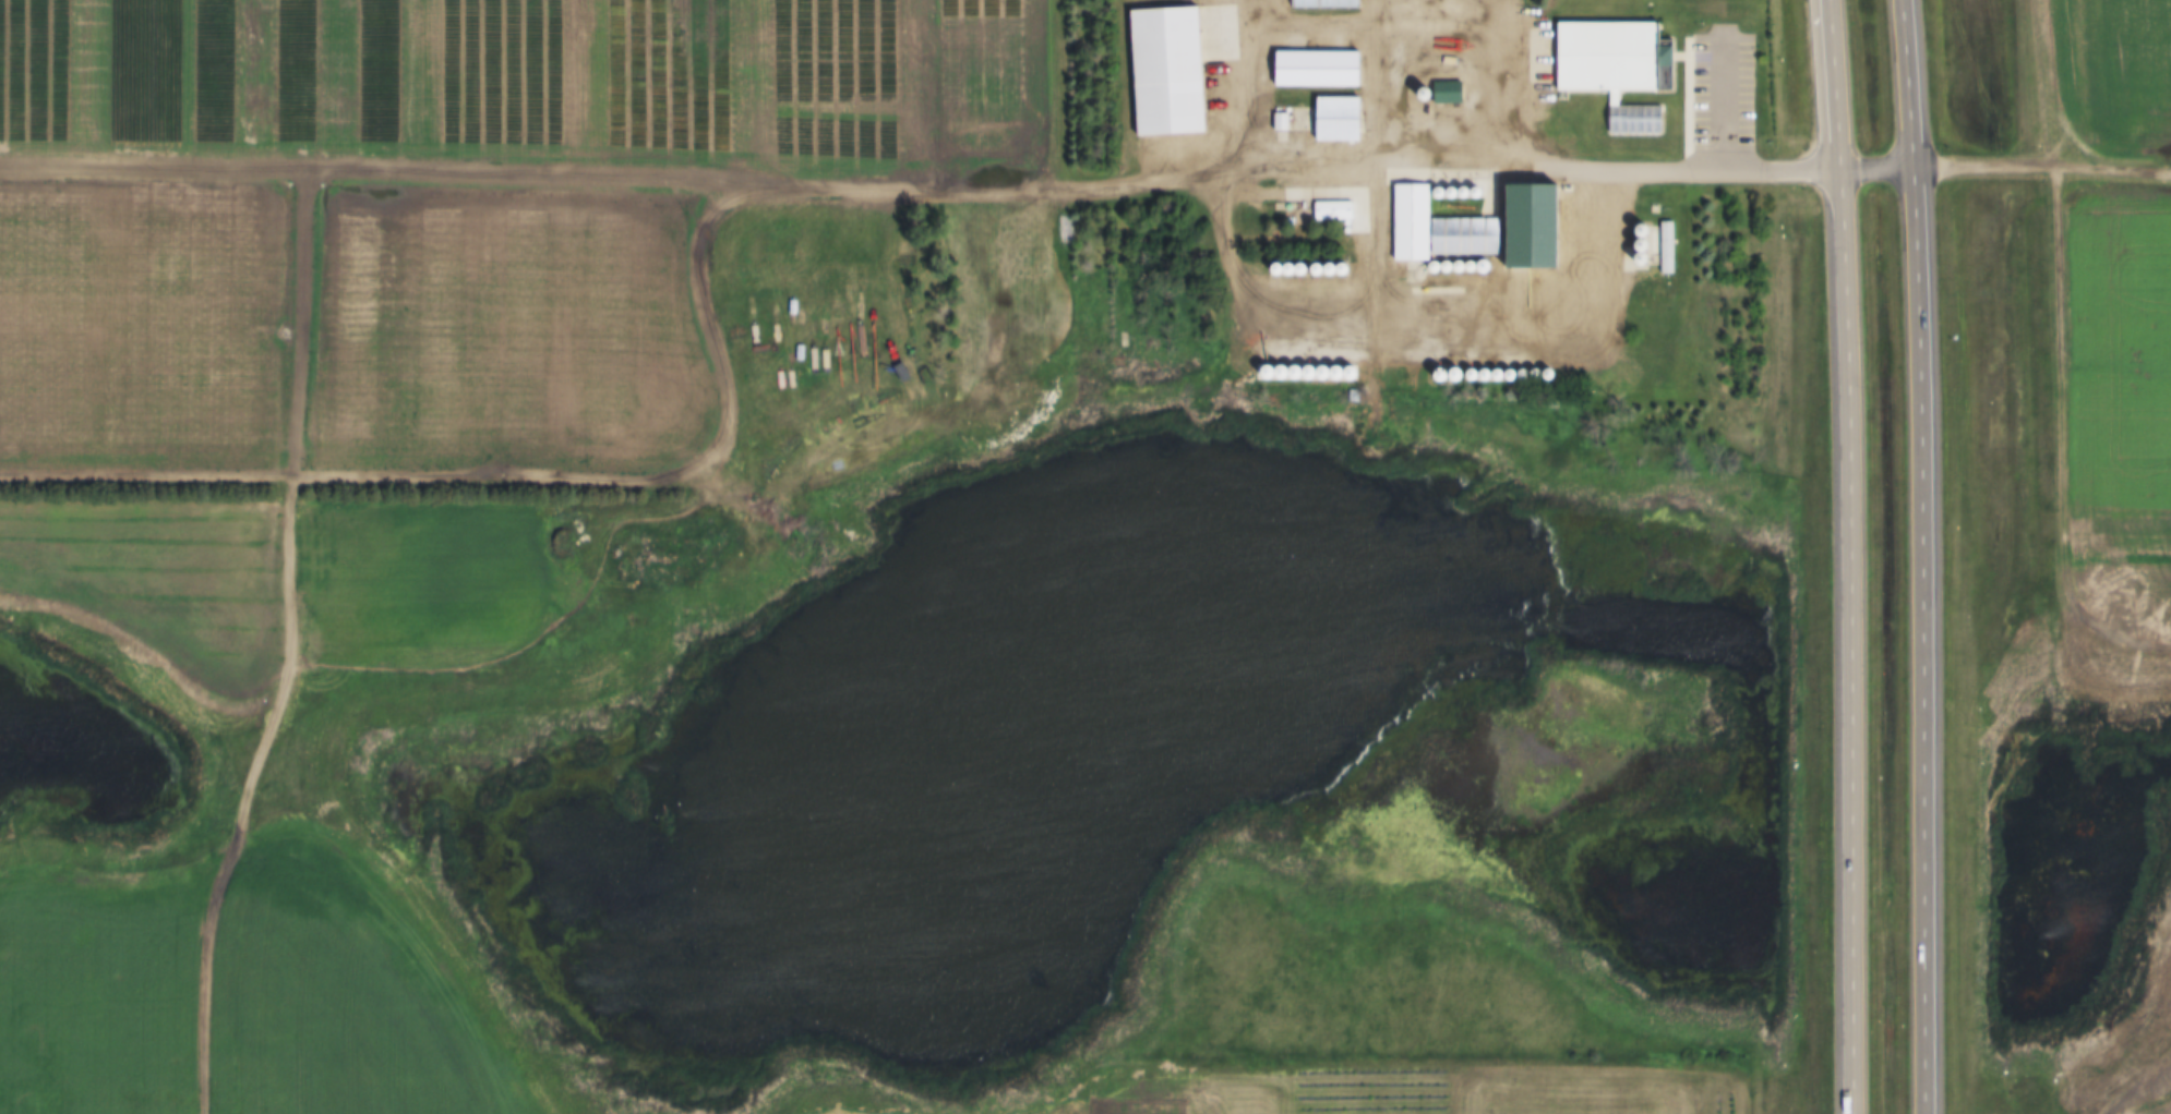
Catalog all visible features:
building: (1323, 4)
road: (1269, 12)
building: (1430, 17)
building: (1348, 61)
building: (1614, 69)
building: (1164, 75)
building: (1302, 81)
road: (1501, 87)
building: (1446, 92)
road: (1706, 97)
building: (1335, 119)
road: (1304, 158)
road: (1881, 165)
road: (2046, 167)
road: (1690, 168)
building: (1331, 210)
building: (1477, 230)
road: (171, 239)
road: (1272, 336)
road: (1105, 387)
road: (951, 413)
road: (669, 482)
road: (1854, 556)
road: (1928, 556)

